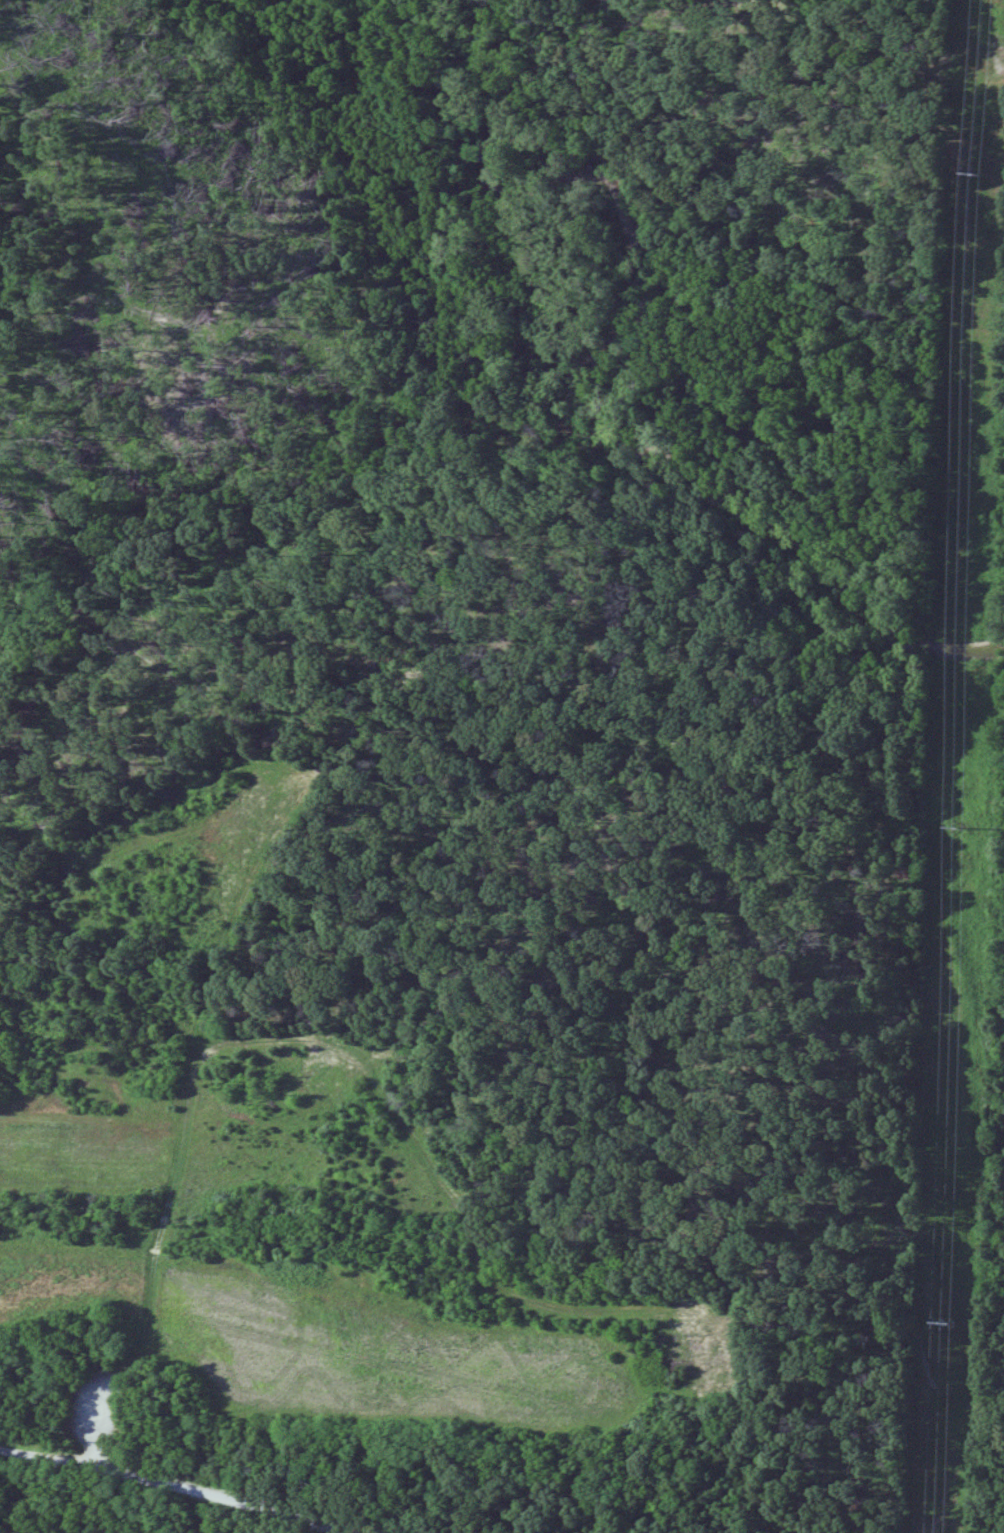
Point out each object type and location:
road: (100, 1425)
parking lot: (90, 1449)
road: (172, 1482)

